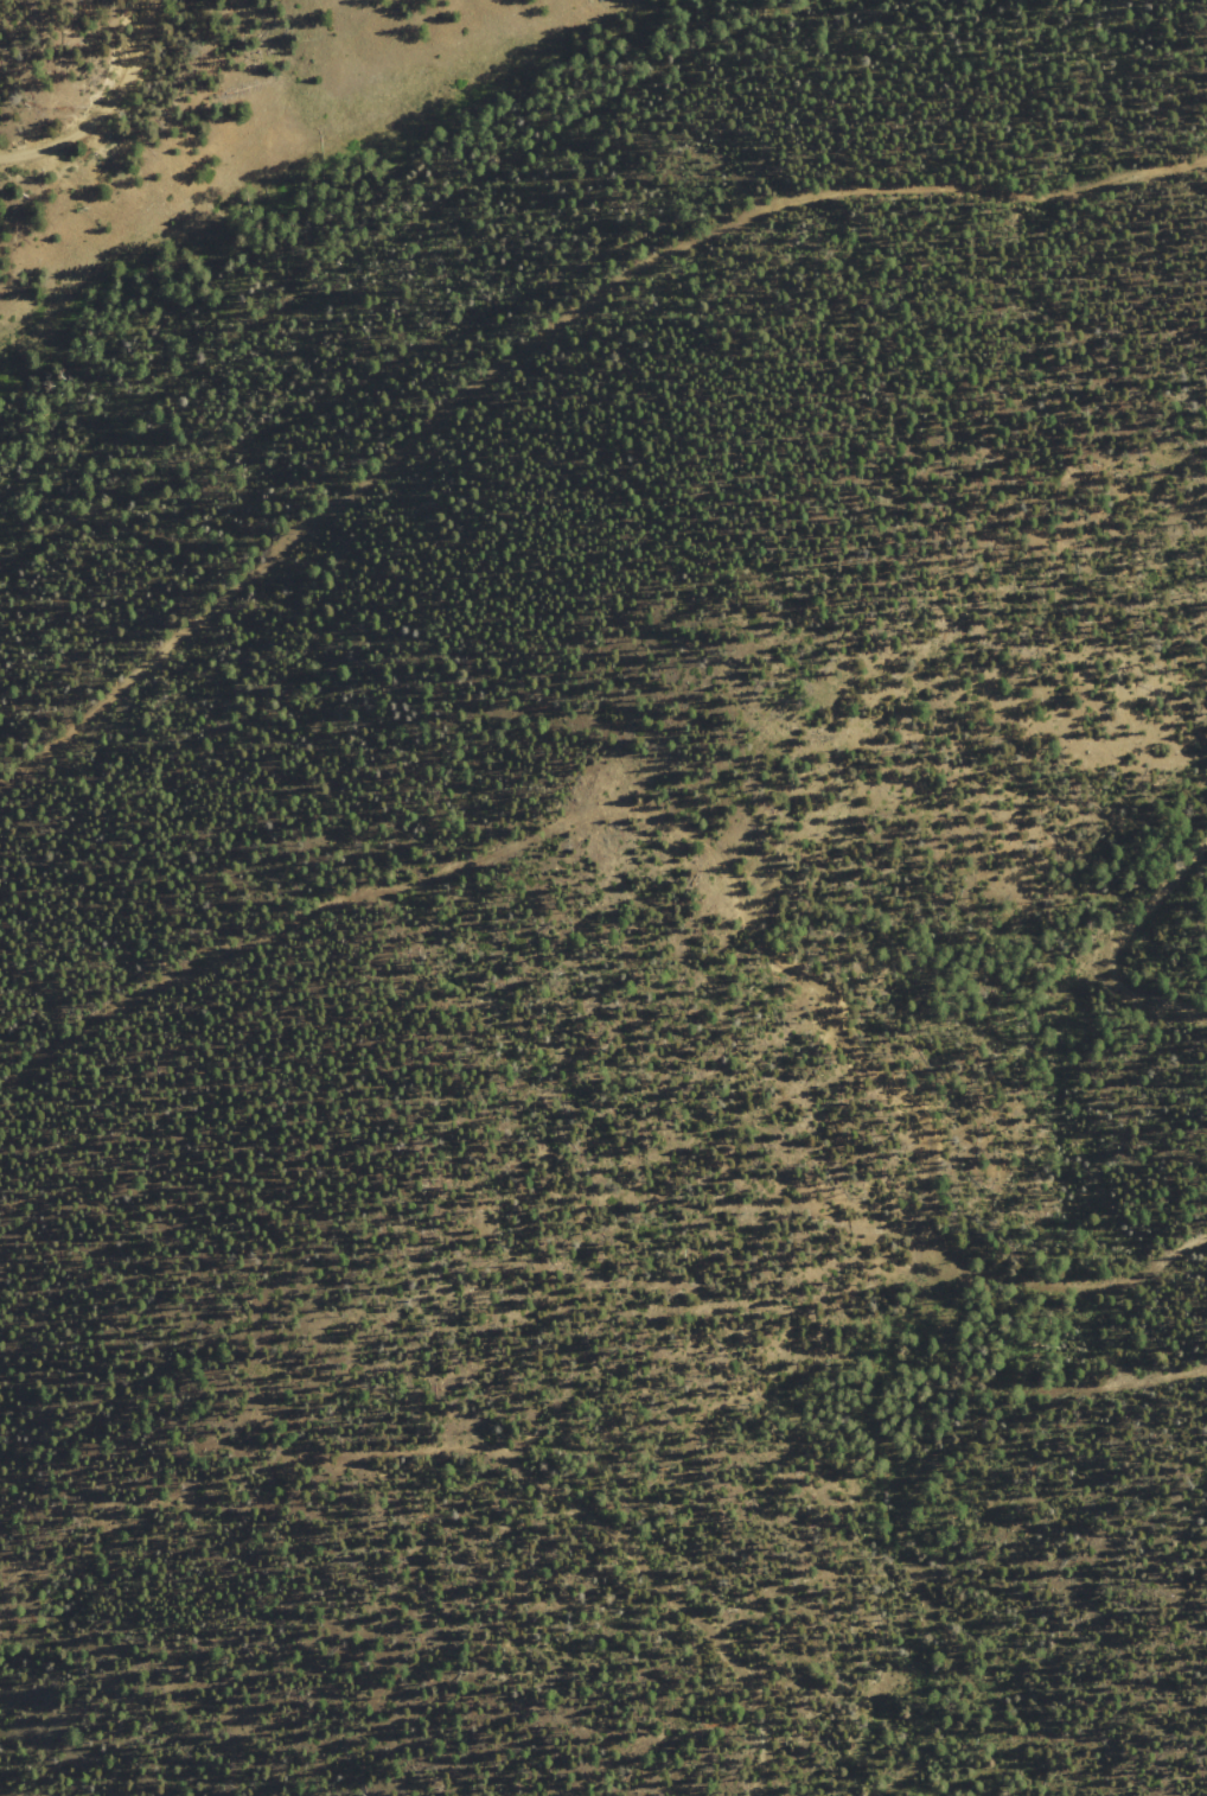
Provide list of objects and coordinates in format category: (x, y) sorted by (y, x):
road: (100, 79)
road: (550, 380)

